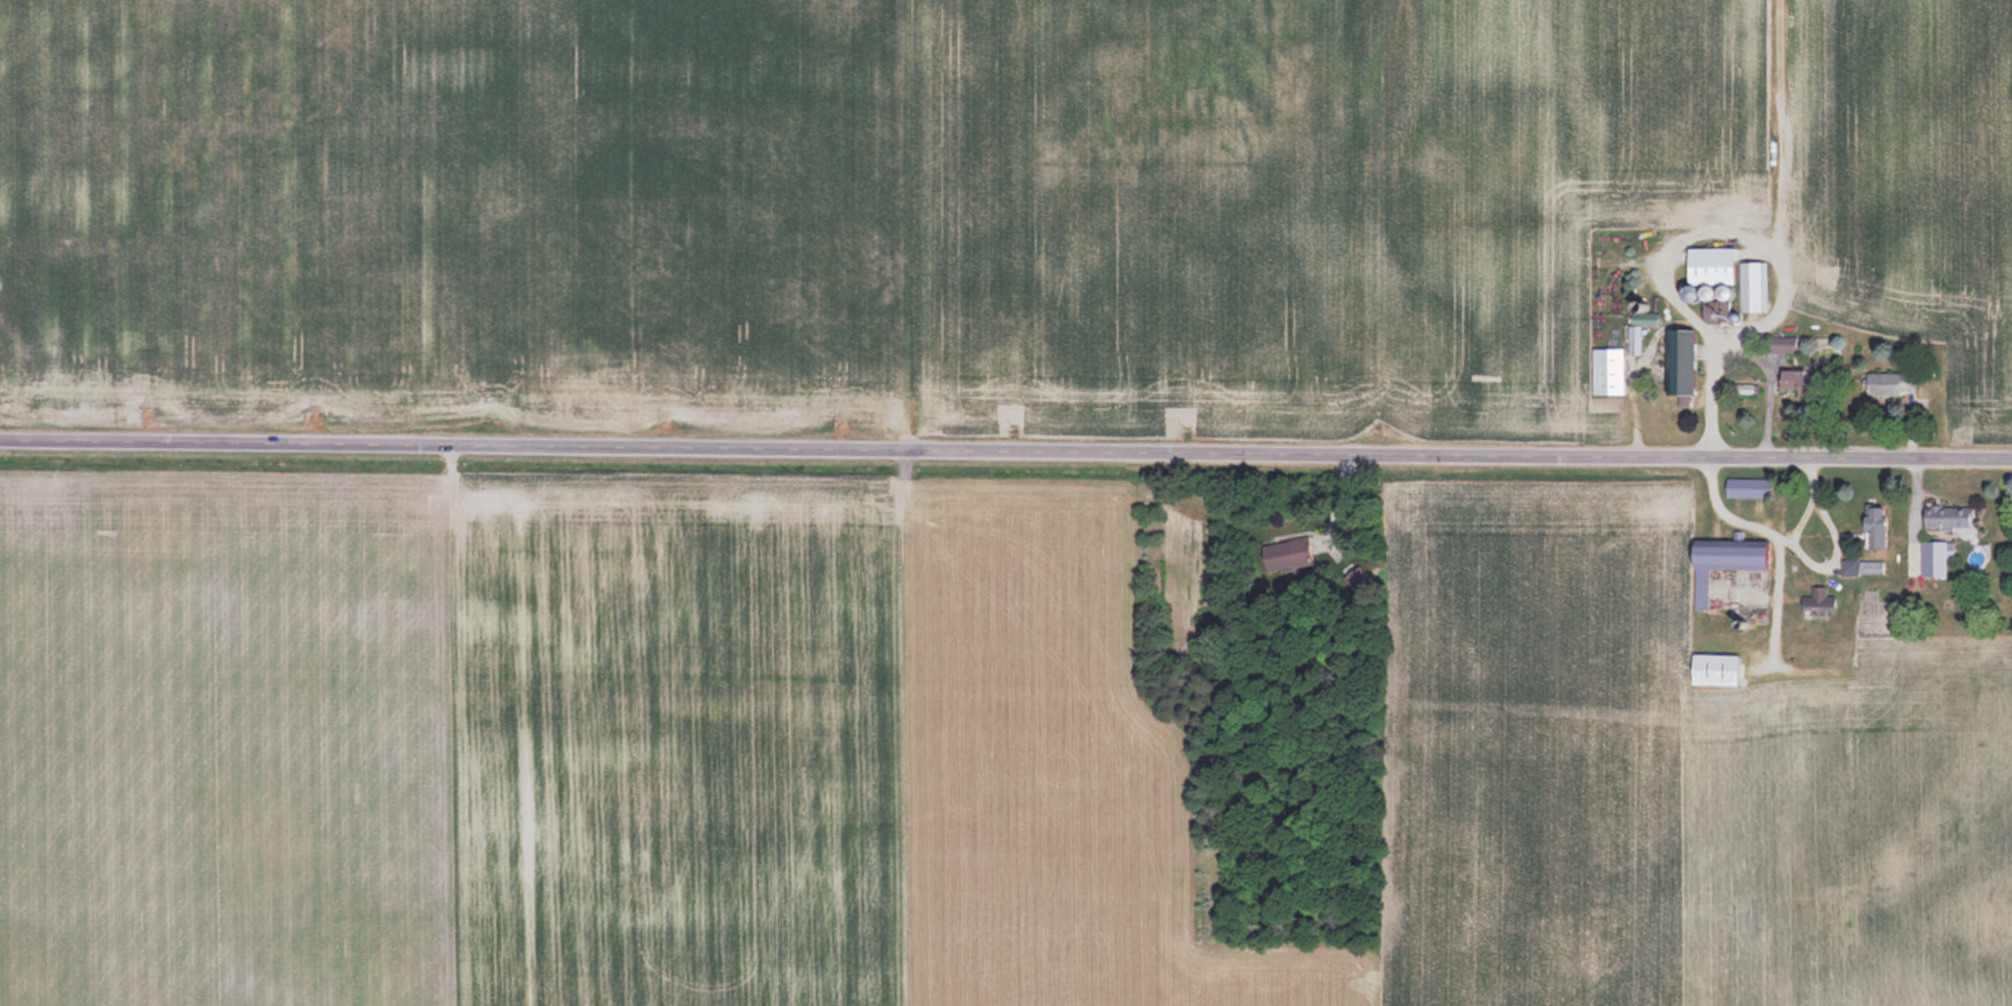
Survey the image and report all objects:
building: (1728, 275)
building: (1781, 345)
building: (1679, 362)
building: (1606, 371)
building: (1788, 378)
building: (1891, 383)
road: (1005, 453)
building: (1741, 487)
building: (1946, 517)
building: (1874, 533)
building: (1931, 558)
building: (1725, 560)
building: (1863, 567)
building: (1818, 600)
building: (1712, 670)

